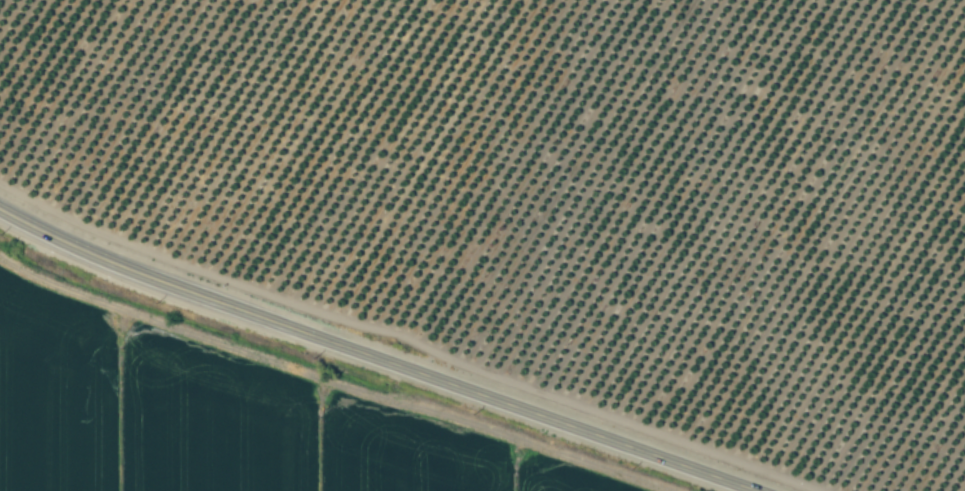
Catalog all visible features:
road: (372, 353)
crop: (216, 420)

